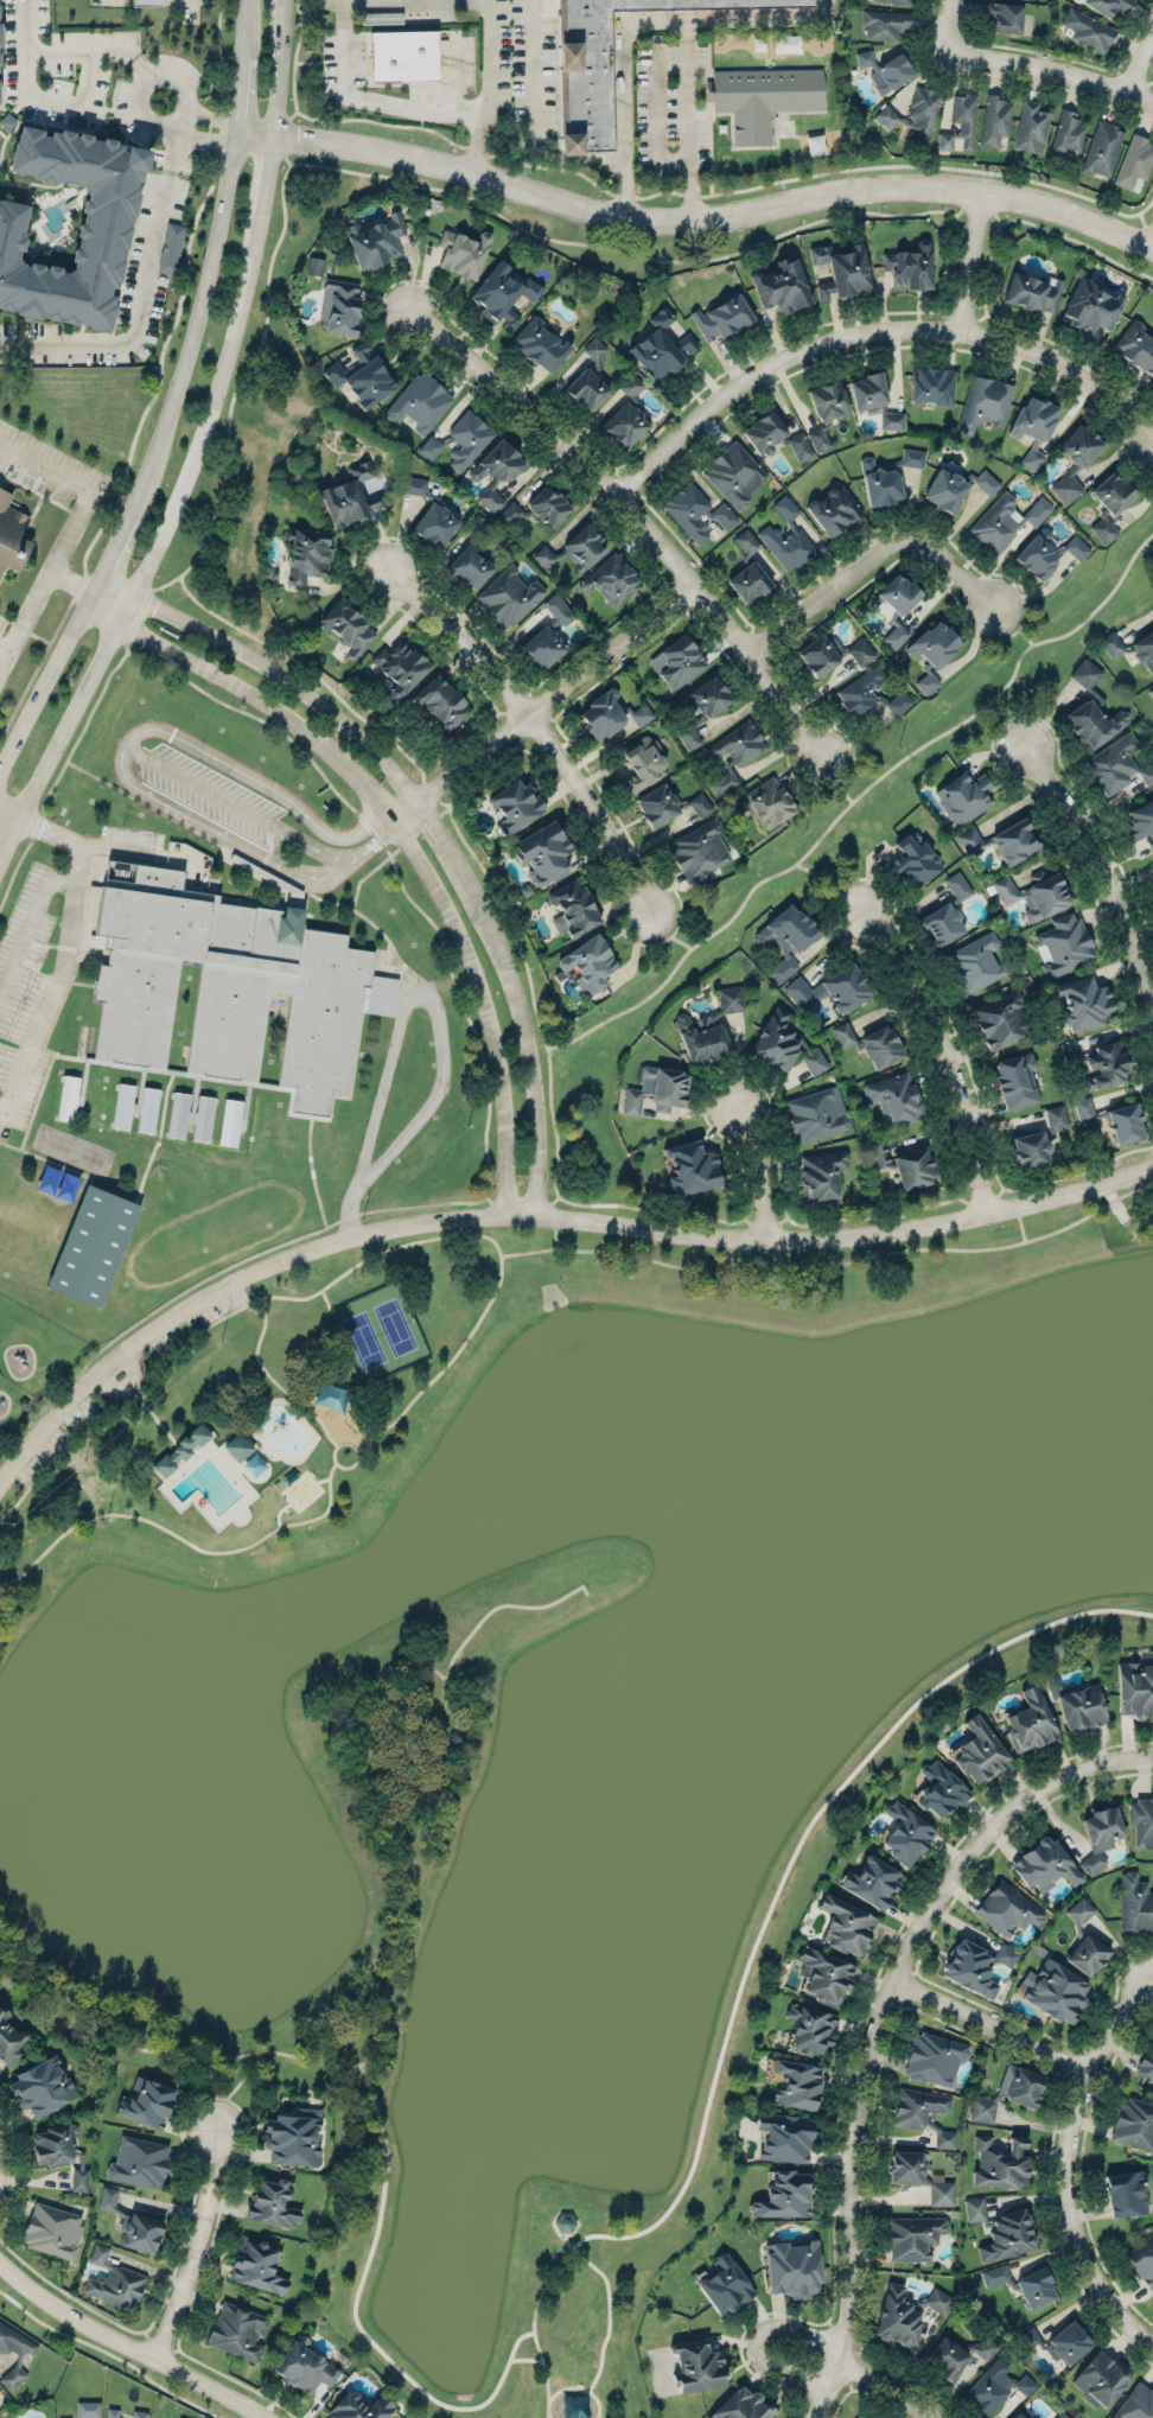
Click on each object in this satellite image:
road: (404, 1)
road: (477, 1)
building: (899, 1)
building: (146, 2)
road: (190, 6)
building: (1108, 6)
road: (343, 9)
building: (1004, 15)
road: (246, 21)
road: (635, 23)
building: (885, 24)
road: (27, 25)
road: (945, 27)
building: (1087, 30)
building: (403, 51)
road: (1057, 55)
building: (607, 63)
road: (1139, 65)
parking lot: (525, 66)
road: (279, 69)
road: (1050, 69)
building: (885, 70)
road: (531, 72)
road: (1013, 74)
road: (454, 75)
road: (24, 78)
road: (149, 79)
road: (242, 88)
road: (488, 88)
building: (762, 97)
road: (378, 101)
road: (656, 107)
parking lot: (674, 107)
building: (922, 113)
building: (886, 116)
building: (994, 120)
road: (683, 121)
building: (961, 122)
road: (198, 123)
building: (1031, 127)
building: (1066, 133)
road: (516, 141)
road: (176, 144)
building: (1102, 148)
road: (599, 158)
building: (1134, 161)
road: (266, 177)
road: (669, 190)
road: (695, 218)
building: (102, 233)
building: (376, 241)
road: (1152, 241)
building: (171, 248)
building: (463, 252)
road: (975, 263)
building: (314, 265)
building: (909, 267)
building: (841, 271)
road: (982, 279)
building: (781, 286)
building: (1032, 292)
building: (502, 294)
building: (342, 305)
building: (1089, 307)
road: (136, 316)
building: (721, 317)
road: (195, 327)
road: (874, 333)
road: (788, 337)
building: (540, 344)
building: (661, 346)
building: (1136, 346)
building: (594, 351)
building: (362, 375)
building: (932, 386)
building: (586, 389)
building: (867, 392)
building: (828, 400)
building: (420, 402)
building: (983, 402)
building: (626, 415)
building: (892, 420)
building: (1033, 427)
building: (764, 434)
building: (460, 439)
building: (818, 439)
building: (800, 446)
building: (1081, 446)
building: (912, 457)
road: (1133, 460)
road: (46, 465)
building: (496, 471)
building: (733, 473)
building: (985, 481)
building: (415, 485)
building: (883, 485)
building: (1068, 485)
building: (945, 490)
building: (1111, 492)
building: (350, 497)
building: (548, 505)
building: (834, 509)
building: (688, 511)
building: (510, 513)
building: (724, 515)
road: (637, 517)
building: (1005, 520)
building: (434, 524)
building: (1103, 529)
building: (11, 530)
building: (785, 537)
building: (746, 541)
road: (116, 546)
road: (154, 548)
building: (574, 549)
building: (1046, 552)
building: (306, 553)
road: (873, 554)
building: (472, 558)
road: (45, 578)
road: (74, 580)
building: (611, 580)
building: (749, 583)
road: (97, 591)
building: (509, 596)
road: (1024, 600)
building: (896, 606)
building: (558, 609)
road: (139, 616)
road: (1007, 619)
building: (348, 626)
road: (970, 630)
building: (935, 643)
road: (5, 644)
building: (1111, 644)
building: (543, 647)
building: (1144, 649)
building: (830, 655)
building: (680, 662)
building: (400, 667)
building: (926, 681)
road: (45, 692)
building: (1151, 692)
building: (868, 694)
road: (541, 698)
building: (441, 702)
building: (705, 707)
building: (1093, 710)
road: (537, 713)
building: (641, 713)
building: (601, 714)
road: (256, 715)
road: (1014, 717)
road: (83, 728)
building: (737, 743)
building: (643, 763)
building: (1117, 763)
road: (129, 778)
building: (724, 782)
road: (835, 783)
parking lot: (216, 793)
road: (858, 797)
building: (963, 797)
building: (767, 802)
building: (700, 803)
road: (148, 804)
building: (515, 804)
building: (656, 804)
road: (442, 809)
road: (9, 813)
road: (419, 813)
road: (432, 820)
building: (1141, 821)
road: (37, 826)
road: (415, 833)
road: (376, 834)
road: (404, 838)
building: (969, 839)
building: (1014, 841)
road: (108, 845)
road: (1106, 850)
building: (699, 852)
building: (544, 853)
building: (913, 860)
road: (13, 870)
road: (364, 876)
road: (833, 882)
building: (1152, 882)
building: (957, 885)
road: (306, 890)
building: (1152, 892)
building: (1037, 896)
building: (573, 909)
building: (942, 924)
road: (28, 927)
road: (667, 927)
building: (785, 938)
building: (1064, 944)
parking lot: (47, 952)
road: (62, 953)
building: (590, 962)
building: (975, 962)
building: (229, 990)
building: (830, 990)
road: (530, 992)
building: (1083, 1003)
road: (467, 1017)
road: (435, 1018)
building: (1000, 1020)
building: (708, 1031)
building: (842, 1033)
road: (950, 1045)
building: (880, 1046)
building: (1100, 1063)
building: (1017, 1080)
building: (656, 1089)
building: (894, 1096)
building: (66, 1097)
building: (122, 1103)
building: (147, 1108)
building: (178, 1114)
building: (816, 1115)
building: (1056, 1116)
building: (203, 1118)
building: (1115, 1120)
building: (230, 1121)
building: (260, 1139)
building: (286, 1144)
building: (1030, 1150)
building: (332, 1151)
road: (766, 1163)
building: (689, 1165)
building: (905, 1166)
road: (312, 1172)
building: (821, 1175)
road: (533, 1202)
road: (535, 1213)
road: (859, 1216)
park: (31, 1220)
road: (1021, 1223)
road: (556, 1236)
building: (93, 1245)
park: (93, 1246)
road: (497, 1247)
road: (833, 1265)
road: (216, 1273)
road: (326, 1298)
road: (193, 1332)
park: (378, 1334)
road: (142, 1401)
building: (236, 1446)
building: (180, 1449)
road: (357, 1456)
road: (180, 1534)
building: (1135, 1688)
building: (1078, 1705)
building: (1030, 1719)
road: (357, 1732)
building: (979, 1745)
building: (939, 1783)
building: (1141, 1818)
road: (426, 1824)
building: (1101, 1831)
building: (905, 1833)
building: (1045, 1862)
building: (872, 1881)
building: (1134, 1903)
building: (1008, 1908)
building: (847, 1920)
building: (1085, 1937)
road: (886, 1961)
building: (976, 1961)
building: (826, 1972)
building: (1056, 1985)
road: (989, 2017)
road: (872, 2018)
building: (810, 2024)
building: (9, 2040)
road: (154, 2049)
building: (932, 2059)
building: (1146, 2062)
building: (796, 2083)
building: (42, 2086)
building: (1009, 2088)
building: (146, 2102)
building: (917, 2106)
building: (1134, 2120)
building: (292, 2133)
building: (785, 2133)
building: (944, 2138)
building: (60, 2152)
road: (7, 2153)
road: (1072, 2156)
building: (139, 2161)
building: (1000, 2161)
building: (906, 2166)
building: (941, 2193)
building: (1126, 2193)
building: (784, 2195)
building: (272, 2203)
building: (133, 2221)
building: (1001, 2228)
building: (52, 2229)
building: (915, 2235)
road: (200, 2239)
building: (1142, 2259)
building: (256, 2265)
building: (794, 2265)
building: (114, 2278)
building: (725, 2282)
building: (1024, 2282)
building: (938, 2299)
building: (897, 2316)
building: (237, 2329)
road: (746, 2333)
road: (148, 2336)
road: (754, 2336)
building: (1027, 2337)
road: (130, 2341)
building: (1066, 2341)
road: (536, 2344)
building: (986, 2347)
road: (112, 2353)
building: (945, 2357)
building: (15, 2361)
building: (304, 2362)
building: (697, 2362)
building: (1100, 2378)
building: (995, 2386)
road: (818, 2390)
road: (883, 2391)
building: (1135, 2403)
building: (743, 2404)
building: (359, 2405)
building: (88, 2407)
building: (113, 2412)
building: (140, 2413)
building: (1018, 2414)
building: (1064, 2414)
building: (64, 2417)
building: (179, 2417)
building: (858, 2417)

